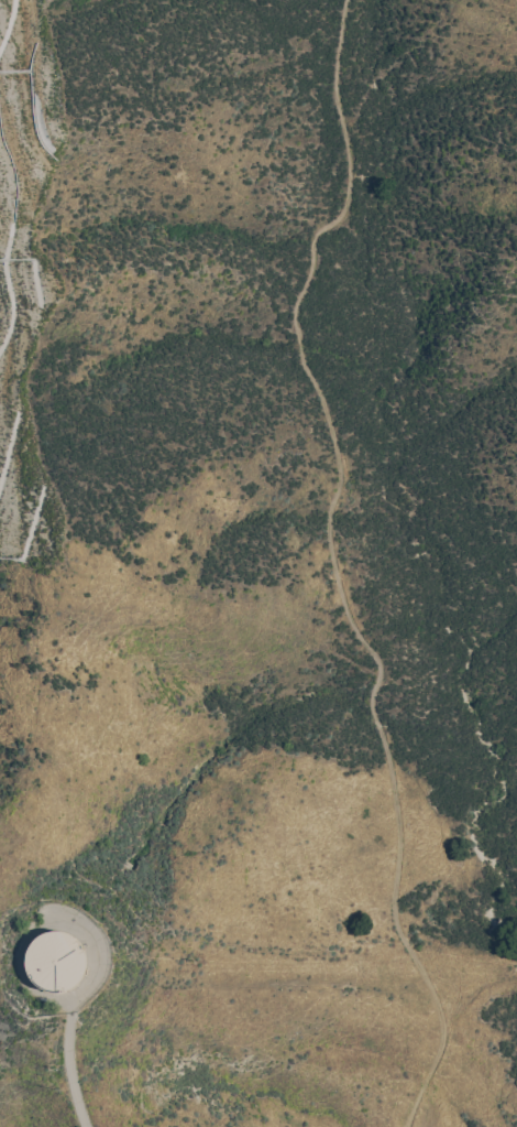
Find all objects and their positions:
building: (55, 961)
road: (70, 1073)

